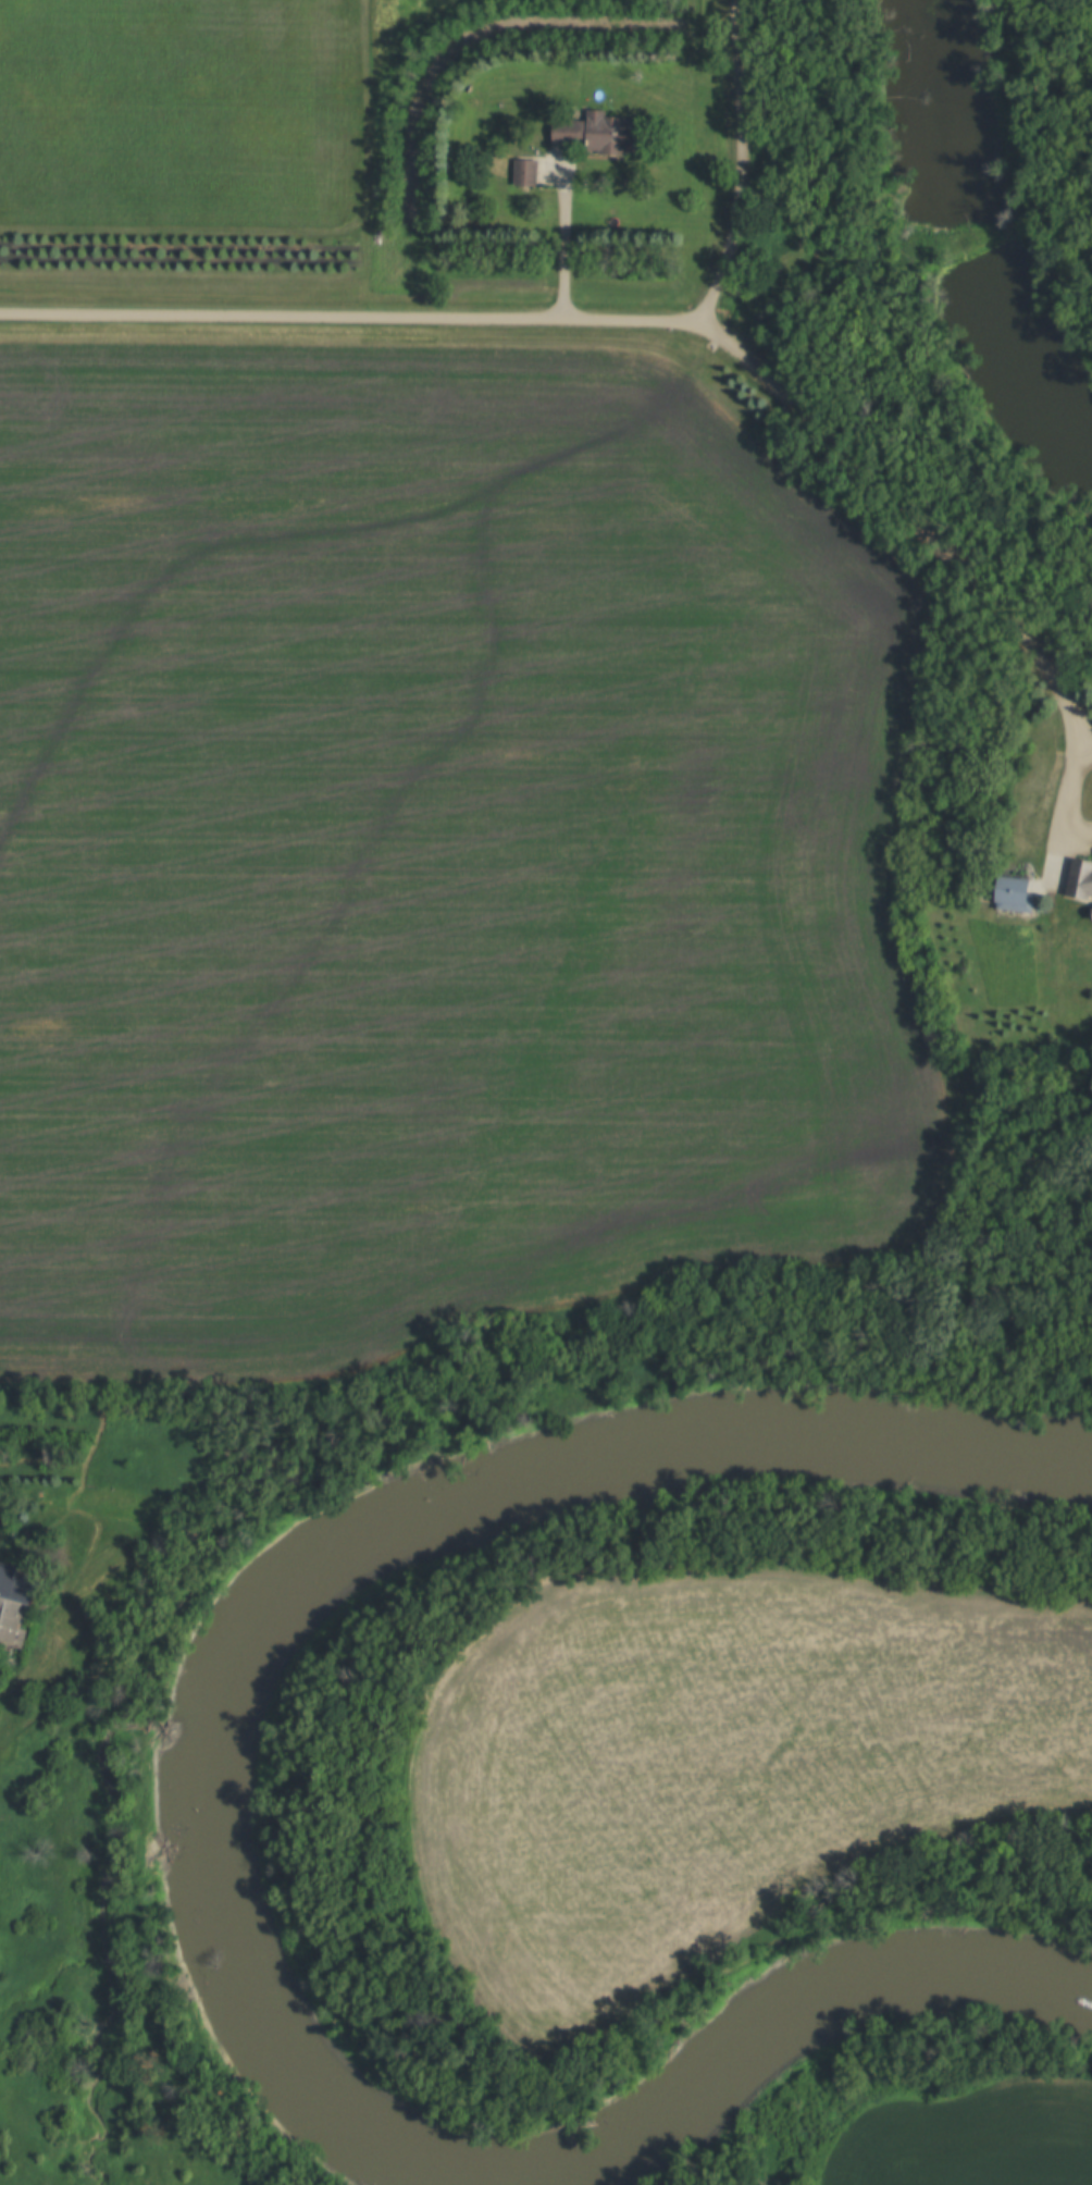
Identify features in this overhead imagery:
building: (604, 134)
building: (528, 173)
road: (561, 243)
road: (513, 322)
road: (903, 511)
road: (1069, 776)
building: (1082, 877)
building: (1019, 893)
river: (608, 1479)
building: (18, 1597)
crop: (719, 1764)
river: (247, 2009)
river: (817, 2021)

